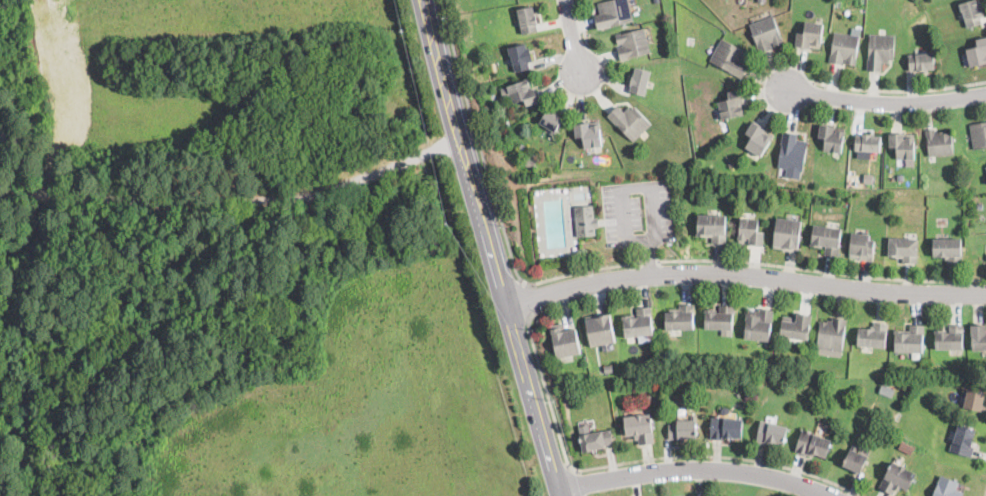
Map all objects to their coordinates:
building: (761, 0)
building: (742, 1)
building: (971, 12)
building: (614, 14)
building: (527, 20)
building: (765, 34)
road: (574, 35)
road: (585, 35)
building: (809, 36)
building: (632, 44)
building: (843, 49)
building: (879, 51)
building: (977, 53)
building: (520, 57)
building: (729, 58)
building: (921, 62)
building: (639, 81)
road: (899, 89)
building: (523, 93)
road: (882, 100)
building: (731, 105)
building: (551, 120)
building: (629, 121)
building: (589, 134)
building: (978, 135)
building: (831, 138)
building: (757, 139)
building: (866, 143)
building: (938, 143)
building: (522, 145)
building: (902, 146)
building: (791, 153)
building: (530, 162)
building: (868, 177)
building: (900, 178)
building: (877, 183)
road: (495, 199)
building: (979, 206)
parking lot: (637, 211)
building: (585, 221)
building: (712, 227)
building: (750, 232)
building: (787, 234)
building: (826, 238)
road: (623, 240)
building: (861, 246)
road: (483, 249)
building: (903, 249)
building: (948, 250)
road: (648, 258)
park: (238, 259)
road: (649, 261)
road: (821, 271)
road: (741, 278)
road: (525, 298)
building: (680, 318)
building: (719, 318)
building: (638, 324)
building: (758, 324)
building: (795, 326)
building: (599, 329)
building: (831, 334)
building: (873, 336)
building: (978, 337)
building: (949, 338)
building: (909, 340)
building: (564, 341)
building: (608, 368)
building: (840, 370)
building: (709, 385)
building: (584, 389)
building: (835, 389)
building: (887, 390)
building: (974, 398)
building: (725, 426)
building: (639, 428)
building: (683, 429)
building: (771, 433)
building: (596, 440)
building: (908, 441)
building: (963, 441)
building: (813, 444)
building: (855, 459)
road: (634, 461)
road: (694, 468)
building: (897, 478)
road: (577, 481)
building: (947, 488)

